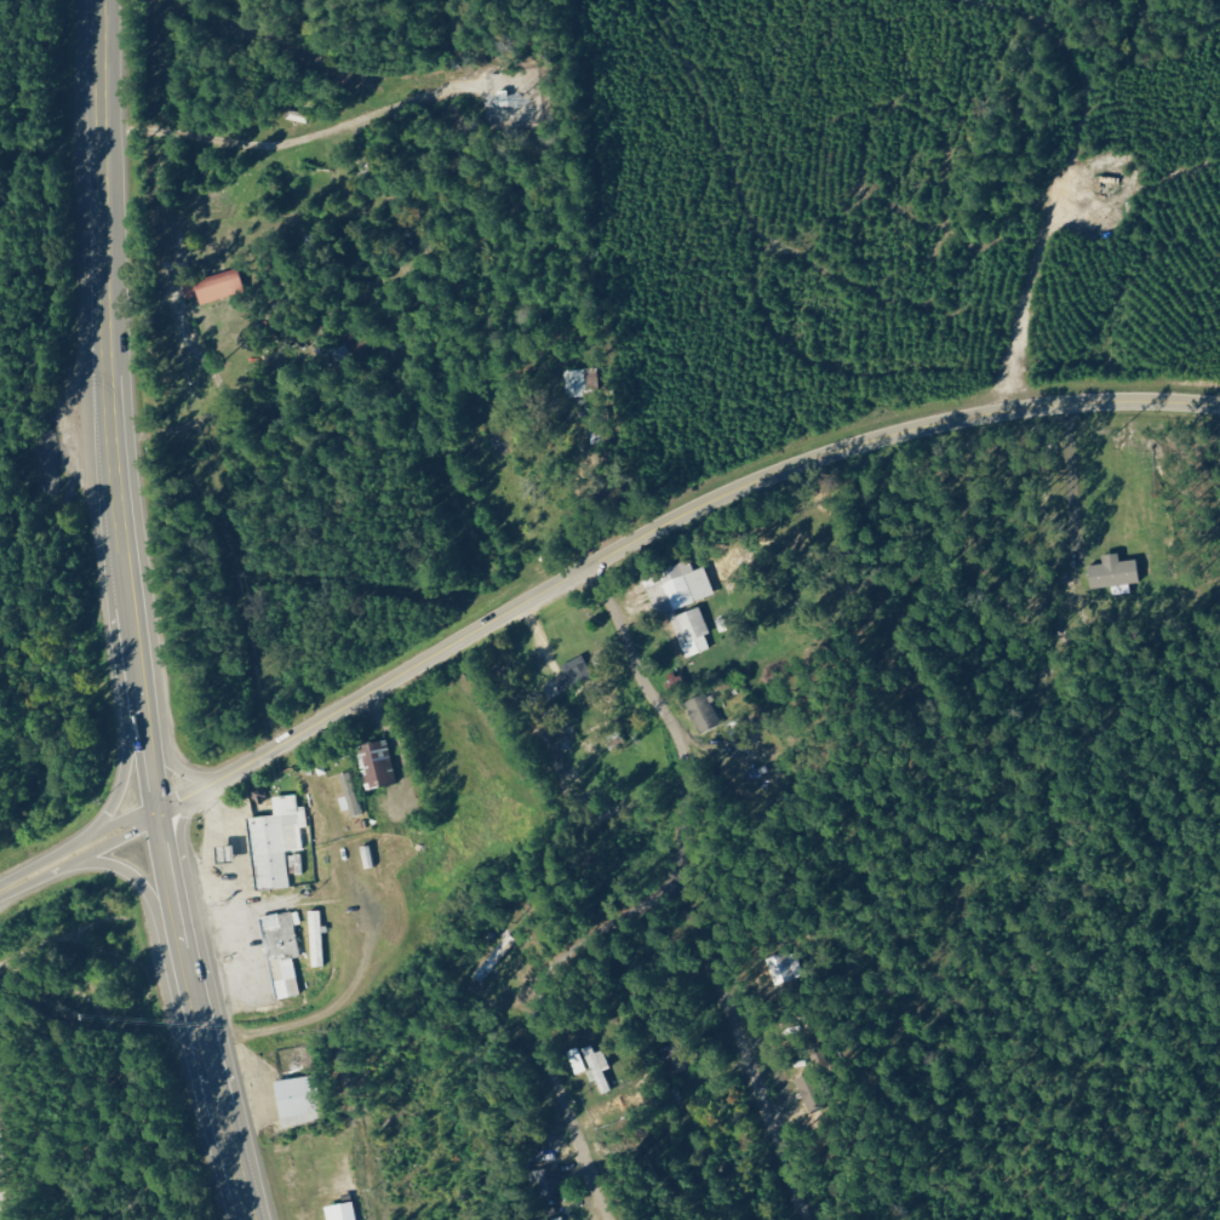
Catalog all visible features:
building: (218, 288)
building: (582, 383)
road: (693, 512)
building: (1116, 573)
building: (685, 603)
road: (127, 615)
building: (705, 714)
road: (126, 735)
road: (164, 743)
road: (595, 752)
building: (379, 764)
road: (188, 795)
building: (353, 797)
building: (277, 842)
road: (179, 843)
gas station: (276, 843)
road: (78, 850)
building: (298, 865)
road: (133, 877)
building: (317, 932)
building: (283, 952)
road: (557, 952)
building: (779, 969)
road: (711, 1058)
building: (601, 1067)
building: (300, 1101)
road: (540, 1116)
road: (425, 1152)
building: (552, 1182)
building: (344, 1212)

